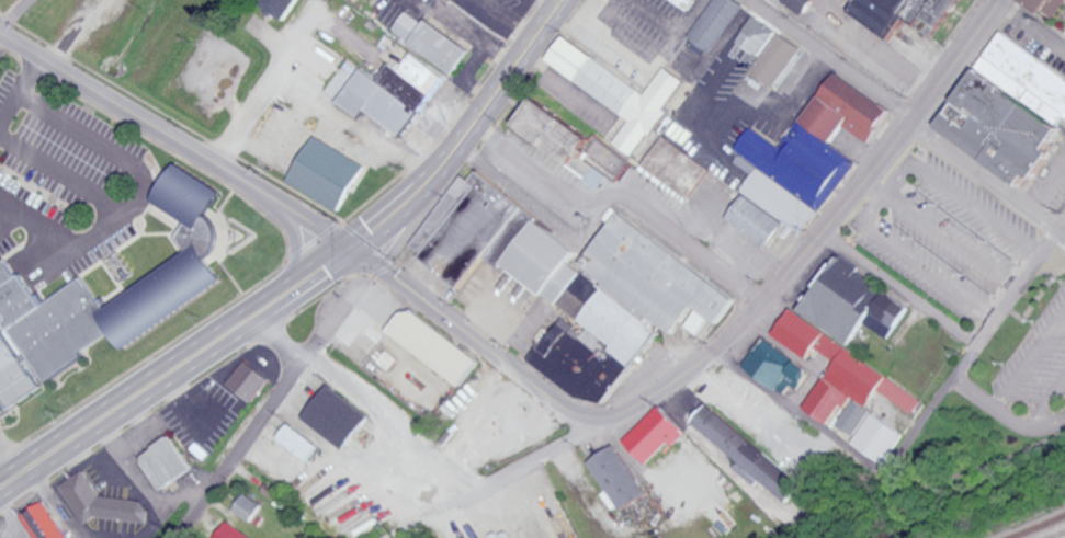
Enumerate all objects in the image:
building: (681, 1)
building: (800, 4)
building: (280, 5)
building: (1047, 11)
road: (12, 14)
building: (899, 14)
building: (715, 22)
road: (1031, 27)
building: (432, 39)
building: (769, 65)
road: (18, 83)
building: (619, 91)
building: (392, 92)
road: (307, 94)
road: (484, 106)
building: (1008, 108)
road: (903, 116)
building: (559, 138)
building: (803, 161)
building: (746, 163)
building: (678, 167)
building: (326, 172)
road: (65, 178)
road: (143, 186)
road: (960, 195)
road: (623, 198)
road: (308, 217)
road: (1063, 229)
road: (942, 237)
parking lot: (948, 237)
road: (819, 240)
road: (917, 263)
building: (186, 270)
building: (574, 282)
road: (904, 287)
road: (355, 296)
building: (856, 307)
road: (993, 325)
building: (432, 345)
road: (202, 350)
parking lot: (1041, 360)
building: (777, 366)
road: (1034, 367)
building: (842, 371)
building: (12, 374)
building: (248, 380)
road: (998, 403)
road: (747, 409)
road: (801, 413)
building: (337, 415)
road: (389, 417)
building: (856, 419)
road: (1044, 424)
road: (252, 430)
road: (480, 430)
building: (655, 434)
building: (879, 437)
building: (298, 442)
road: (903, 450)
building: (746, 453)
road: (9, 458)
building: (165, 462)
building: (618, 477)
road: (838, 477)
road: (55, 501)
building: (101, 502)
road: (424, 504)
building: (247, 506)
building: (43, 522)
railway: (1036, 526)
building: (233, 531)
railway: (1055, 534)

